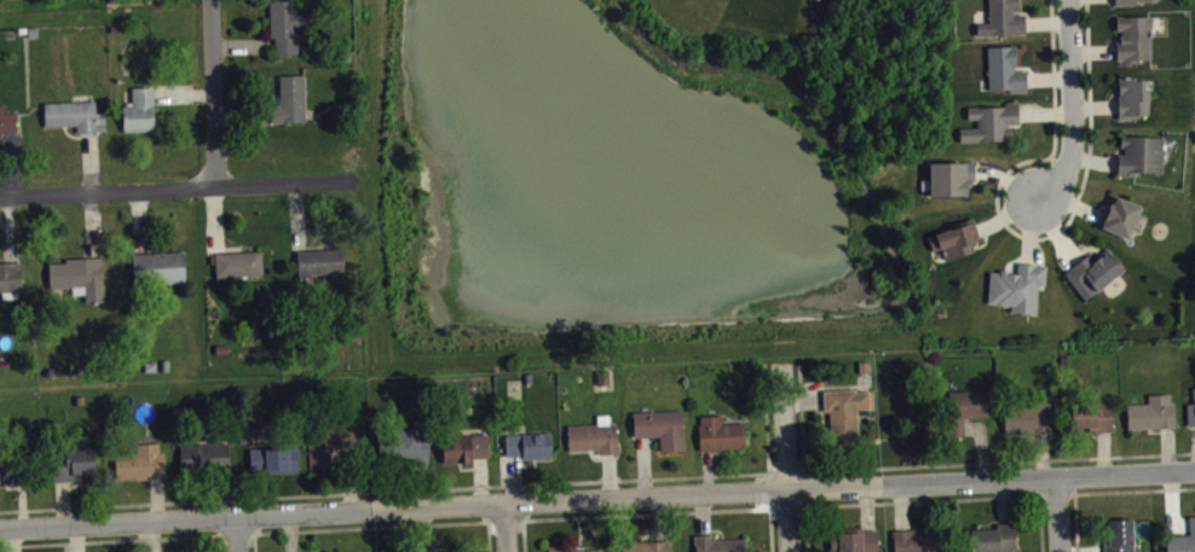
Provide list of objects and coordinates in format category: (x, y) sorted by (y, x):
building: (1124, 1)
building: (1001, 18)
building: (287, 24)
building: (1132, 36)
building: (1004, 68)
road: (214, 92)
building: (1131, 95)
building: (289, 99)
road: (1070, 101)
building: (140, 109)
building: (75, 115)
building: (7, 120)
building: (991, 121)
building: (1139, 153)
building: (949, 176)
road: (177, 186)
building: (1120, 215)
road: (1020, 233)
building: (954, 238)
building: (319, 260)
building: (236, 266)
building: (158, 267)
building: (1093, 271)
building: (10, 274)
building: (80, 275)
building: (1016, 285)
building: (1190, 406)
building: (962, 411)
building: (844, 412)
building: (1150, 412)
building: (1091, 413)
building: (1027, 416)
road: (767, 420)
building: (659, 425)
building: (720, 432)
building: (594, 435)
building: (329, 438)
building: (529, 443)
building: (409, 444)
building: (463, 446)
road: (1148, 453)
building: (204, 457)
road: (785, 457)
building: (273, 458)
building: (71, 461)
building: (140, 461)
road: (889, 466)
building: (12, 469)
road: (803, 470)
road: (1119, 489)
road: (371, 490)
road: (1058, 493)
road: (968, 496)
road: (596, 498)
road: (647, 512)
road: (806, 512)
road: (1057, 513)
road: (506, 519)
road: (420, 523)
road: (507, 527)
road: (770, 529)
road: (278, 530)
road: (236, 533)
road: (237, 533)
road: (524, 535)
building: (1119, 535)
building: (993, 538)
road: (1076, 538)
road: (109, 539)
building: (1180, 539)
building: (853, 540)
building: (916, 540)
road: (220, 544)
building: (718, 544)
building: (645, 545)
building: (570, 548)
building: (431, 550)

